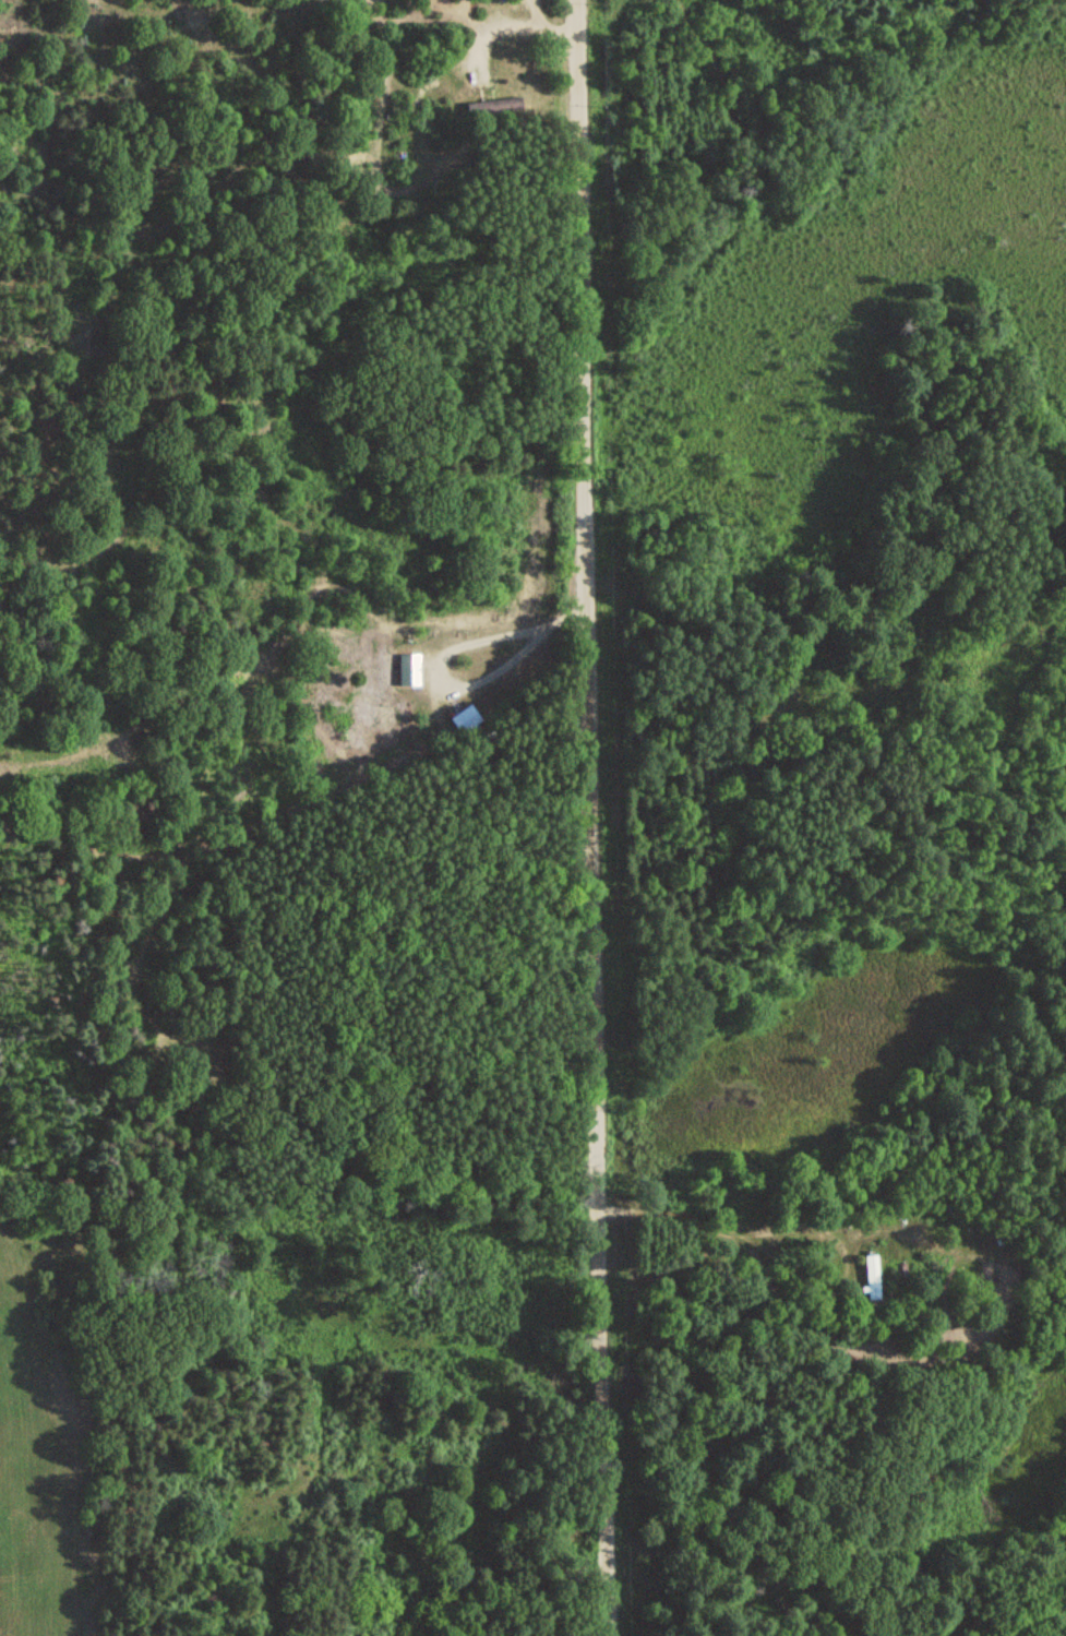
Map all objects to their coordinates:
building: (504, 107)
building: (467, 720)
road: (590, 817)
building: (871, 1277)

